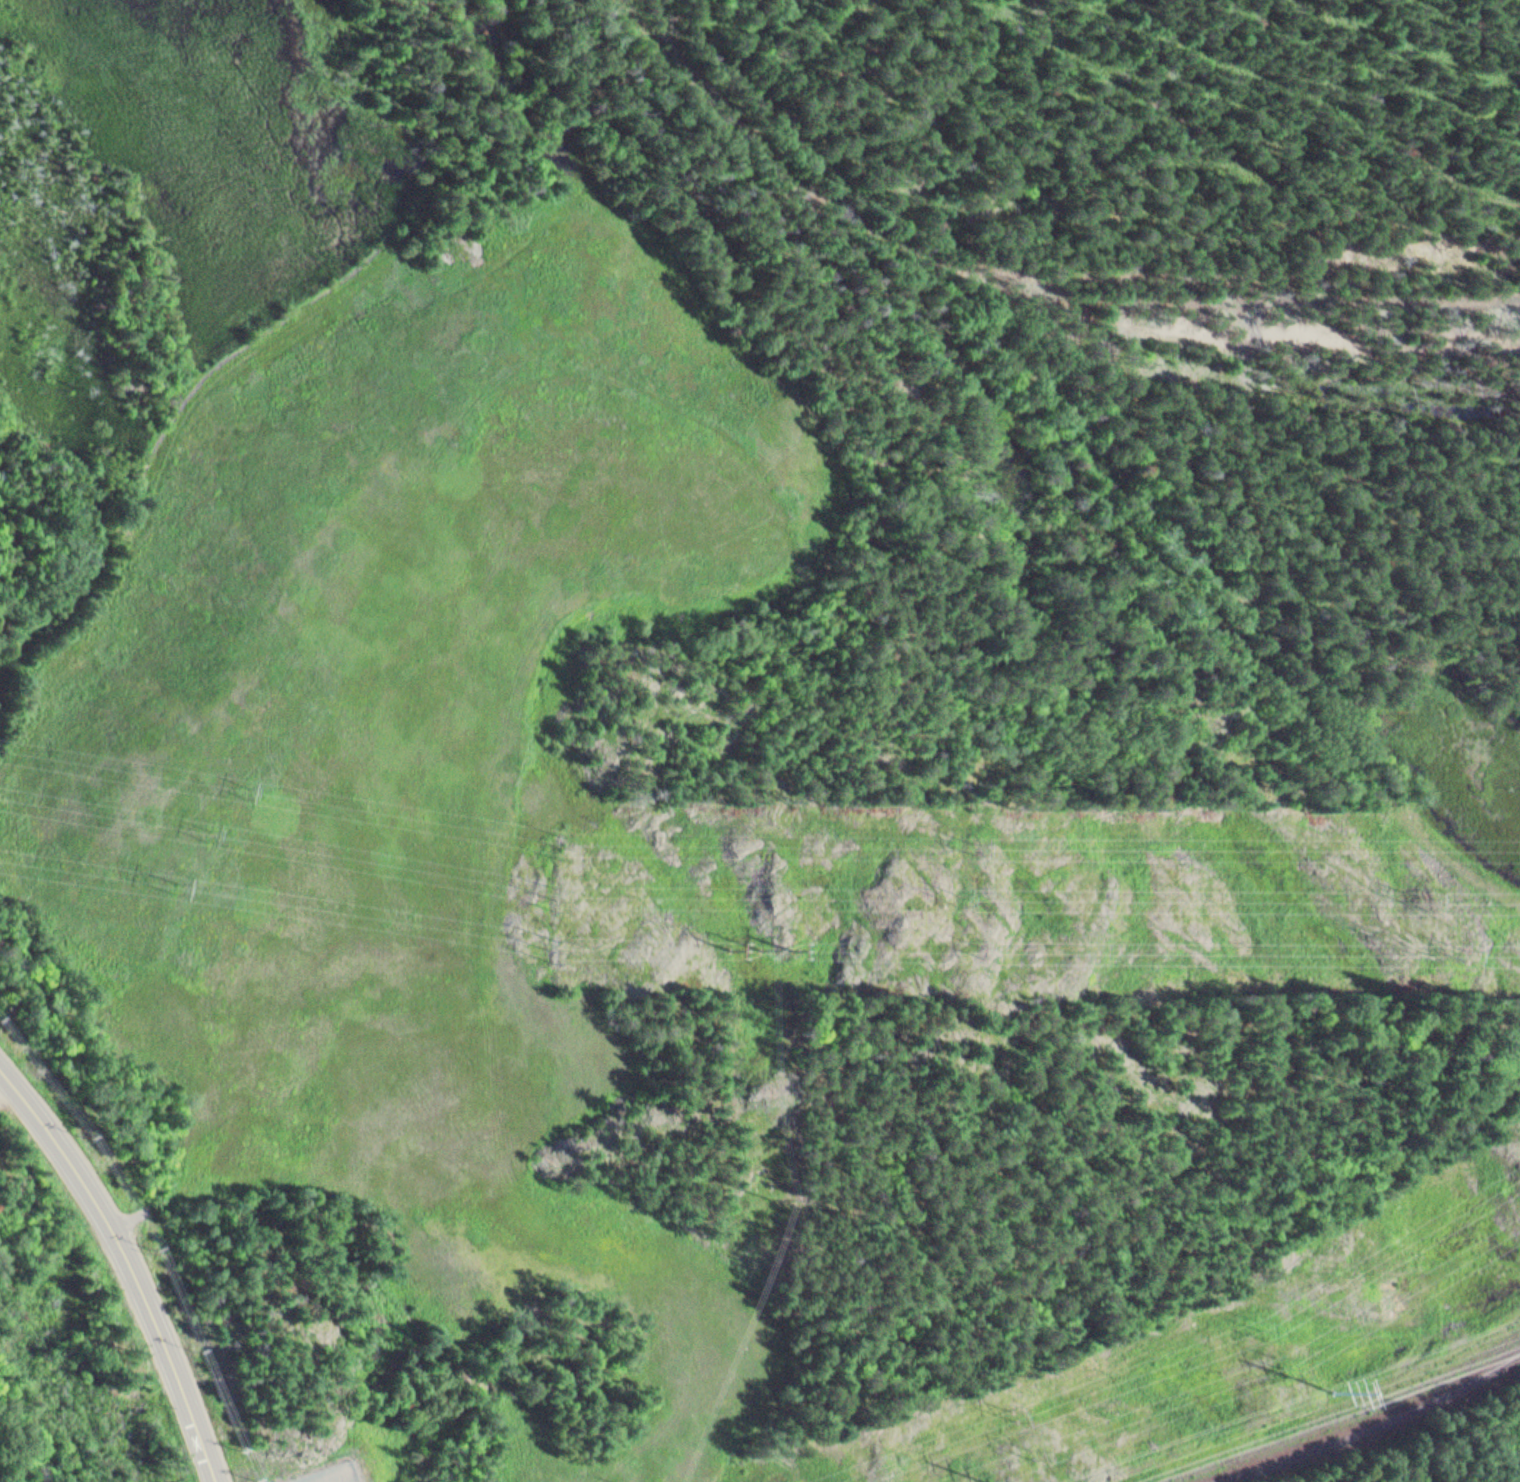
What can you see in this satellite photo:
power tower: (235, 790)
power tower: (202, 832)
power tower: (566, 843)
power tower: (979, 846)
power tower: (170, 888)
power tower: (559, 896)
power tower: (1427, 897)
power tower: (964, 898)
power tower: (550, 950)
power tower: (986, 951)
power tower: (1462, 955)
road: (131, 1262)
power tower: (1267, 1328)
power tower: (1284, 1364)
power tower: (1336, 1392)
power tower: (1015, 1415)
railway: (1346, 1417)
railway: (1375, 1427)
power tower: (1034, 1452)
power substation: (334, 1474)

